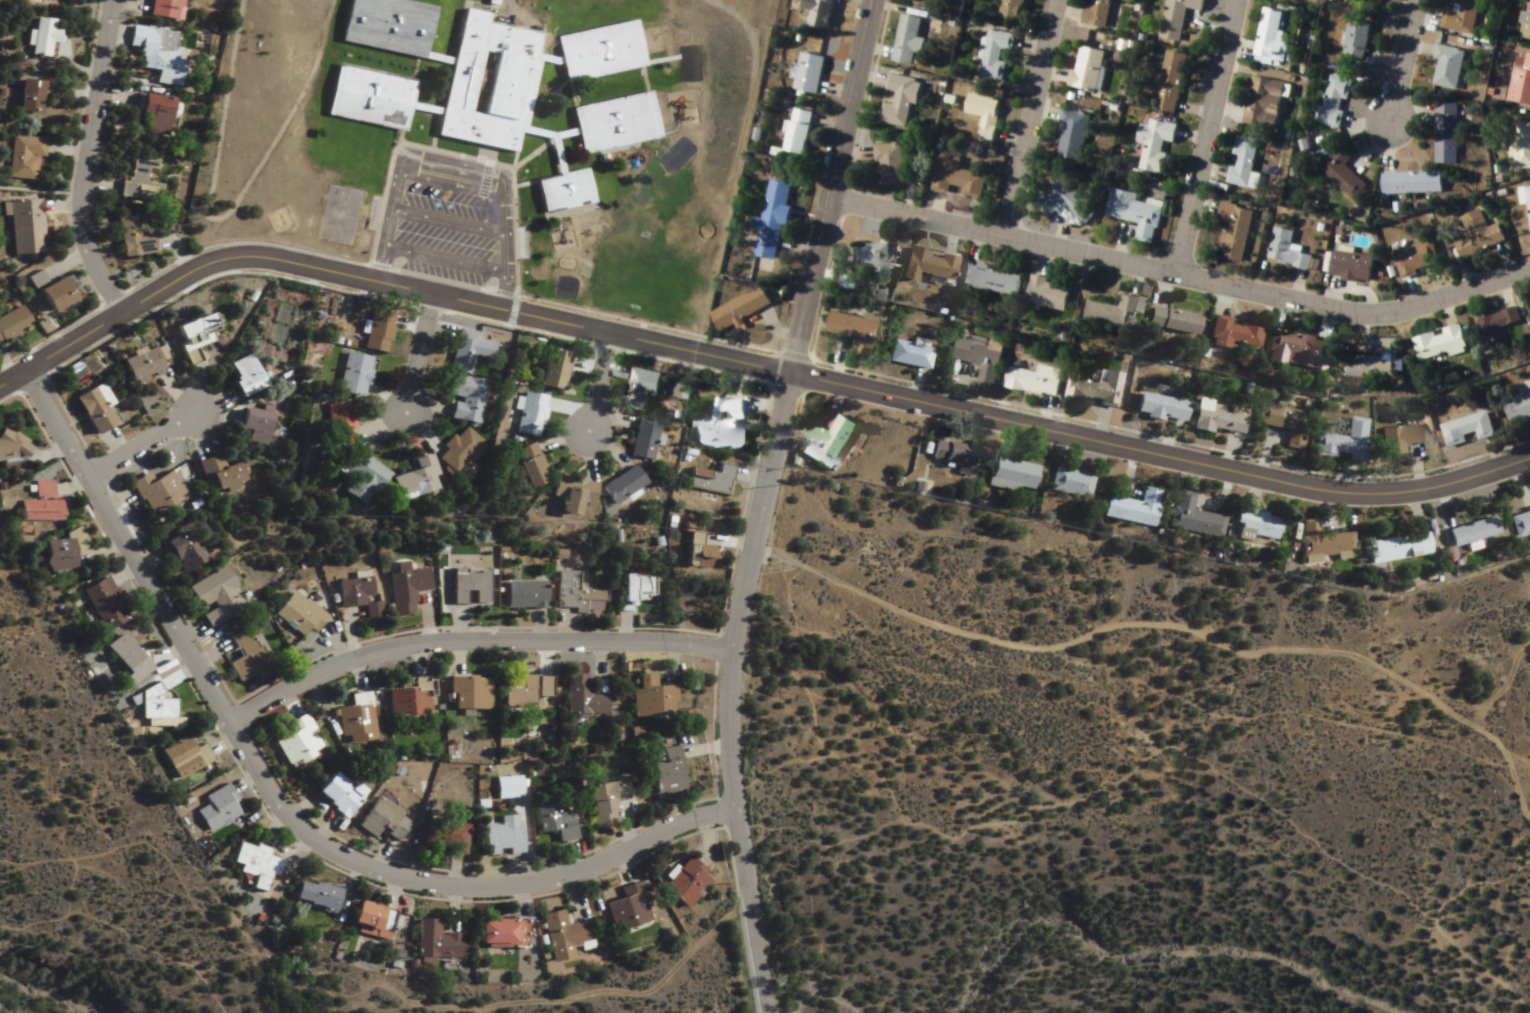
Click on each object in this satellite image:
building: (1379, 0)
building: (165, 8)
building: (1011, 10)
building: (819, 12)
building: (1096, 12)
building: (1177, 17)
building: (1461, 17)
building: (1525, 24)
building: (1270, 36)
building: (41, 37)
building: (907, 40)
building: (1355, 42)
building: (155, 53)
building: (994, 55)
road: (1406, 59)
building: (1447, 67)
building: (1087, 68)
building: (809, 73)
building: (489, 82)
building: (1170, 82)
building: (1521, 83)
building: (31, 94)
building: (899, 101)
building: (1334, 101)
building: (1263, 102)
building: (150, 114)
building: (984, 115)
road: (1032, 116)
building: (797, 131)
building: (1445, 133)
road: (1207, 134)
building: (1073, 135)
building: (1155, 145)
building: (1521, 145)
road: (451, 155)
building: (23, 157)
road: (88, 157)
building: (1242, 161)
building: (889, 165)
building: (1342, 171)
building: (957, 178)
building: (139, 180)
building: (1411, 183)
road: (834, 184)
building: (1525, 196)
building: (1066, 202)
parking lot: (444, 214)
building: (1135, 214)
park: (340, 215)
building: (772, 221)
building: (23, 226)
building: (1234, 232)
building: (1478, 236)
building: (129, 237)
parking lot: (447, 237)
building: (1286, 251)
building: (871, 257)
building: (1415, 259)
road: (308, 264)
building: (927, 266)
building: (1351, 267)
road: (1182, 269)
building: (990, 280)
building: (51, 291)
building: (1047, 296)
building: (741, 309)
building: (1111, 313)
building: (1172, 321)
building: (11, 323)
park: (284, 324)
building: (1494, 328)
building: (856, 331)
building: (378, 332)
building: (1234, 333)
building: (193, 337)
building: (1438, 344)
road: (413, 348)
building: (1299, 349)
building: (467, 351)
road: (719, 353)
building: (908, 355)
building: (977, 357)
building: (1373, 362)
building: (141, 364)
building: (553, 370)
building: (242, 375)
building: (354, 376)
road: (593, 378)
building: (1035, 381)
building: (642, 389)
building: (1096, 390)
building: (465, 398)
building: (1518, 406)
building: (91, 408)
building: (1159, 408)
building: (530, 415)
building: (1218, 418)
building: (339, 424)
building: (1282, 424)
building: (252, 426)
building: (720, 426)
building: (1467, 429)
building: (1396, 439)
building: (643, 440)
building: (1343, 442)
building: (828, 443)
road: (140, 444)
building: (9, 447)
building: (459, 450)
road: (1161, 451)
building: (953, 457)
building: (527, 467)
building: (217, 475)
building: (1012, 475)
building: (359, 477)
building: (412, 479)
building: (711, 480)
building: (1070, 483)
building: (622, 486)
building: (157, 492)
building: (572, 495)
building: (39, 504)
building: (1132, 508)
building: (1192, 518)
building: (1521, 522)
building: (1254, 525)
building: (1469, 533)
building: (1324, 542)
building: (1398, 548)
building: (62, 551)
building: (179, 552)
building: (696, 553)
building: (470, 587)
building: (406, 590)
building: (631, 591)
building: (575, 594)
building: (525, 595)
building: (357, 596)
building: (215, 597)
building: (104, 604)
building: (298, 614)
road: (1167, 630)
road: (472, 643)
building: (248, 655)
building: (125, 658)
road: (728, 688)
building: (518, 691)
building: (469, 693)
building: (580, 698)
building: (649, 698)
building: (408, 700)
building: (155, 710)
building: (355, 721)
building: (296, 741)
building: (183, 759)
building: (664, 772)
road: (1099, 783)
building: (336, 795)
building: (602, 802)
road: (276, 803)
building: (219, 817)
building: (553, 821)
building: (382, 822)
building: (500, 837)
building: (444, 838)
building: (254, 862)
building: (684, 884)
building: (312, 895)
building: (627, 908)
building: (367, 921)
road: (132, 928)
building: (499, 934)
building: (398, 937)
building: (562, 937)
building: (433, 942)

